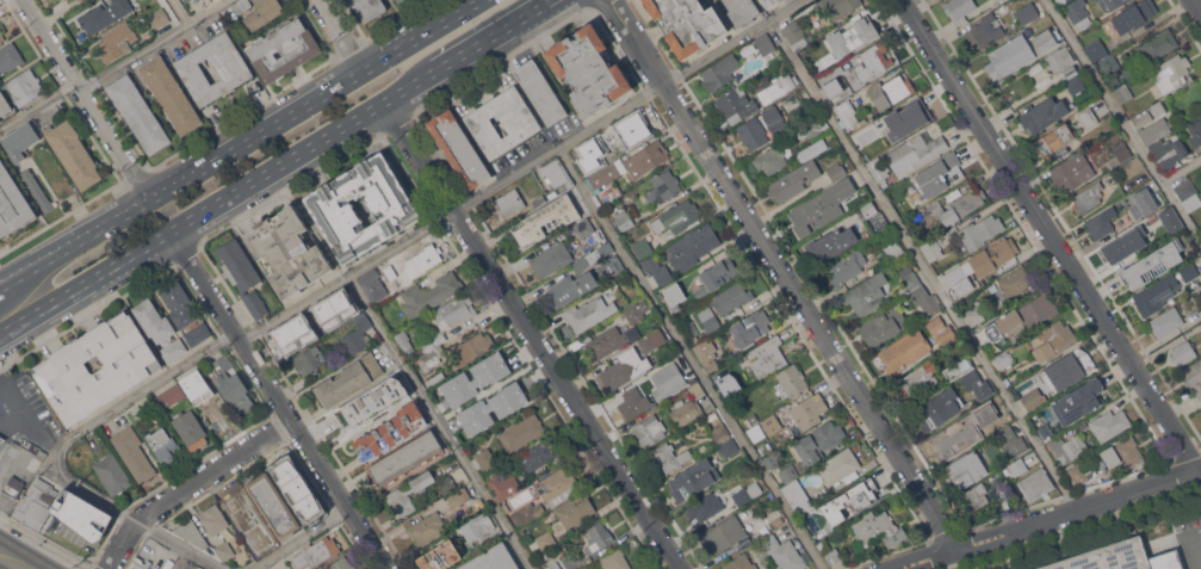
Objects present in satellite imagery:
building: (1097, 0)
building: (400, 1)
building: (769, 2)
building: (1115, 2)
building: (190, 4)
building: (241, 5)
road: (1197, 5)
building: (838, 6)
building: (369, 7)
building: (959, 10)
building: (742, 11)
road: (182, 12)
building: (262, 13)
building: (1028, 13)
building: (1077, 13)
building: (105, 14)
building: (1134, 14)
building: (160, 18)
building: (687, 23)
road: (469, 30)
building: (856, 31)
building: (984, 31)
building: (797, 35)
building: (1, 36)
road: (345, 36)
road: (497, 36)
building: (1045, 39)
building: (116, 42)
building: (764, 44)
building: (1157, 44)
building: (284, 48)
building: (1096, 50)
building: (1009, 56)
building: (10, 57)
building: (874, 58)
building: (813, 63)
building: (1109, 63)
road: (116, 68)
building: (1034, 68)
building: (233, 69)
building: (589, 69)
building: (1059, 69)
building: (719, 72)
building: (1171, 72)
building: (1077, 82)
building: (25, 86)
building: (776, 89)
building: (891, 91)
building: (540, 92)
building: (832, 92)
building: (1123, 92)
building: (171, 94)
road: (91, 98)
road: (320, 99)
building: (4, 104)
building: (736, 105)
building: (1158, 107)
building: (138, 113)
building: (848, 115)
building: (909, 115)
building: (1042, 115)
building: (1088, 117)
building: (1141, 118)
building: (502, 122)
road: (1122, 123)
building: (637, 126)
building: (762, 128)
building: (809, 128)
building: (1154, 130)
building: (867, 131)
building: (1195, 132)
building: (19, 142)
building: (1054, 142)
building: (458, 148)
building: (588, 150)
road: (305, 151)
building: (915, 151)
building: (1168, 153)
building: (74, 154)
building: (1120, 154)
building: (770, 160)
building: (631, 165)
building: (1132, 166)
building: (594, 167)
building: (879, 169)
building: (836, 171)
road: (1181, 171)
building: (1071, 172)
building: (936, 175)
building: (553, 178)
building: (793, 180)
building: (663, 187)
building: (37, 188)
building: (62, 192)
building: (1188, 193)
building: (1088, 197)
building: (607, 199)
building: (509, 203)
building: (12, 204)
building: (958, 205)
building: (821, 206)
building: (904, 208)
building: (1139, 210)
building: (396, 211)
building: (872, 216)
building: (676, 217)
building: (624, 219)
building: (1170, 219)
building: (545, 221)
building: (1100, 224)
building: (584, 227)
road: (423, 228)
building: (980, 231)
road: (1050, 234)
building: (669, 237)
building: (1125, 243)
road: (76, 245)
building: (830, 245)
building: (642, 247)
building: (693, 247)
building: (894, 248)
building: (930, 249)
building: (289, 251)
building: (993, 255)
building: (422, 259)
building: (551, 259)
building: (883, 259)
building: (1153, 264)
building: (613, 265)
road: (923, 265)
building: (846, 266)
building: (657, 270)
building: (1188, 271)
building: (391, 273)
building: (718, 273)
road: (785, 273)
building: (242, 274)
building: (1200, 274)
building: (908, 280)
building: (957, 282)
road: (87, 284)
building: (372, 285)
building: (1013, 285)
building: (570, 289)
building: (675, 290)
building: (1200, 292)
building: (431, 293)
building: (1156, 293)
building: (867, 295)
building: (731, 297)
building: (924, 299)
building: (179, 304)
building: (1190, 305)
building: (637, 310)
building: (450, 311)
building: (589, 313)
building: (974, 315)
building: (1022, 317)
building: (708, 318)
building: (154, 320)
building: (1165, 321)
building: (298, 324)
building: (751, 326)
building: (883, 327)
building: (941, 330)
building: (198, 334)
road: (532, 335)
building: (358, 336)
building: (403, 340)
building: (609, 340)
building: (1054, 340)
building: (432, 342)
building: (648, 342)
building: (471, 348)
building: (173, 350)
building: (904, 351)
building: (1183, 352)
building: (707, 355)
building: (432, 358)
road: (689, 358)
building: (766, 359)
building: (307, 360)
building: (999, 360)
building: (131, 367)
building: (959, 367)
building: (1070, 369)
building: (618, 372)
building: (1193, 377)
building: (475, 378)
building: (349, 379)
building: (667, 381)
building: (202, 382)
building: (790, 382)
building: (918, 382)
building: (725, 383)
building: (978, 384)
building: (231, 385)
building: (389, 385)
building: (697, 389)
building: (168, 396)
building: (1032, 398)
road: (281, 400)
building: (1078, 401)
building: (632, 403)
road: (7, 407)
building: (493, 408)
building: (940, 409)
building: (686, 410)
building: (809, 410)
building: (136, 414)
building: (215, 416)
building: (351, 416)
road: (438, 422)
building: (1109, 423)
building: (1081, 425)
building: (764, 428)
building: (191, 429)
building: (390, 431)
building: (649, 431)
building: (959, 431)
building: (1045, 431)
building: (521, 432)
building: (720, 433)
building: (1, 439)
building: (821, 441)
building: (1011, 441)
building: (163, 445)
building: (1069, 447)
building: (729, 449)
building: (38, 451)
building: (1122, 452)
building: (134, 453)
building: (538, 454)
building: (406, 457)
building: (484, 457)
building: (669, 457)
building: (773, 460)
building: (838, 465)
building: (1017, 466)
building: (968, 468)
building: (1078, 471)
building: (788, 472)
building: (112, 474)
building: (290, 478)
building: (693, 478)
road: (192, 484)
building: (446, 484)
building: (1035, 484)
building: (13, 485)
building: (503, 485)
building: (556, 487)
building: (409, 493)
building: (739, 495)
building: (458, 496)
building: (797, 496)
building: (974, 496)
building: (855, 501)
building: (239, 503)
building: (479, 505)
building: (273, 506)
building: (706, 506)
building: (62, 511)
building: (572, 512)
building: (526, 513)
building: (311, 515)
building: (213, 519)
road: (1046, 519)
road: (135, 521)
building: (815, 524)
building: (477, 526)
building: (426, 527)
building: (877, 528)
building: (192, 532)
building: (722, 533)
building: (598, 537)
road: (1194, 537)
road: (301, 538)
building: (252, 539)
building: (545, 539)
parking lot: (1188, 540)
building: (224, 551)
building: (829, 551)
building: (316, 552)
building: (782, 552)
road: (1191, 553)
building: (440, 556)
building: (1120, 558)
road: (13, 559)
building: (493, 559)
building: (614, 559)
building: (741, 562)
building: (342, 563)
building: (142, 564)
building: (553, 565)
road: (27, 568)
building: (589, 568)

